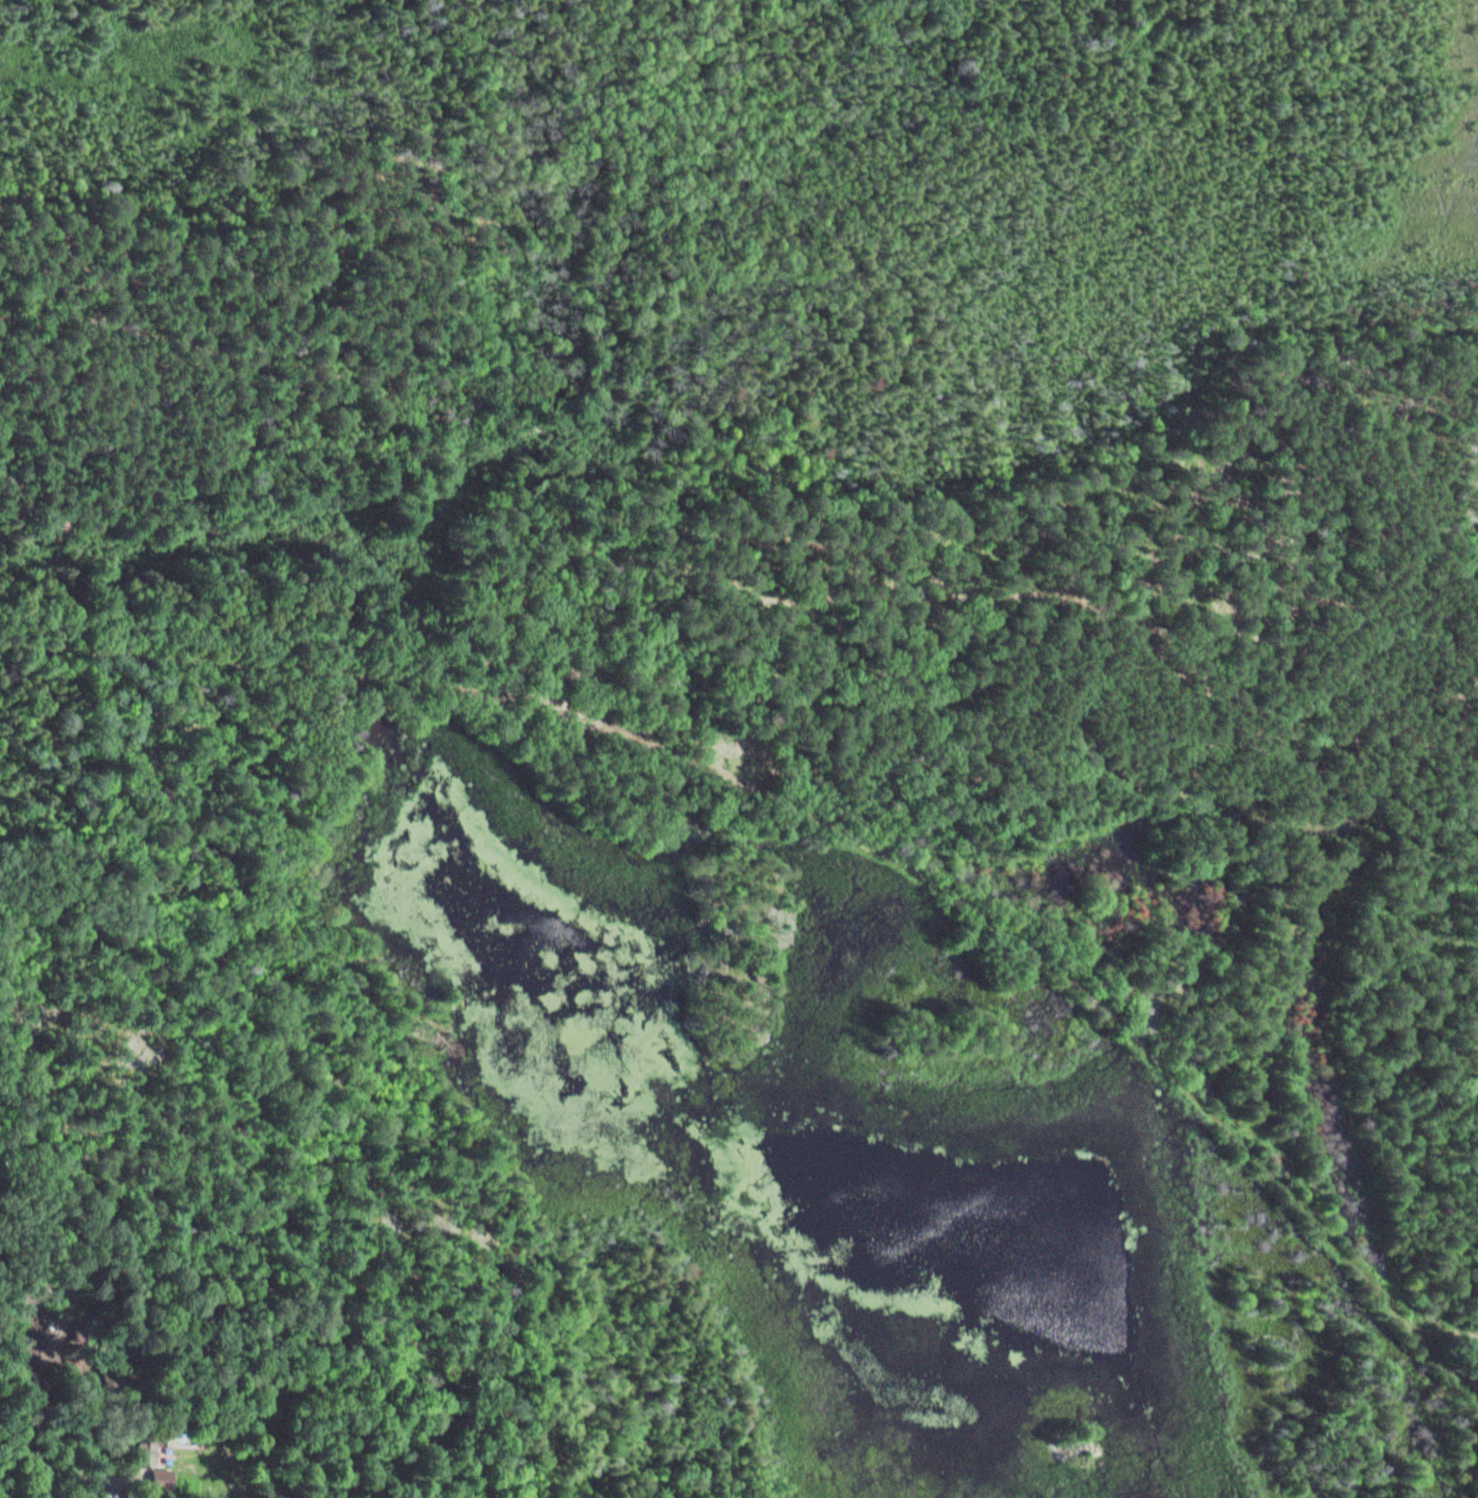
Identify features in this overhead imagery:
building: (146, 1451)
building: (164, 1478)

